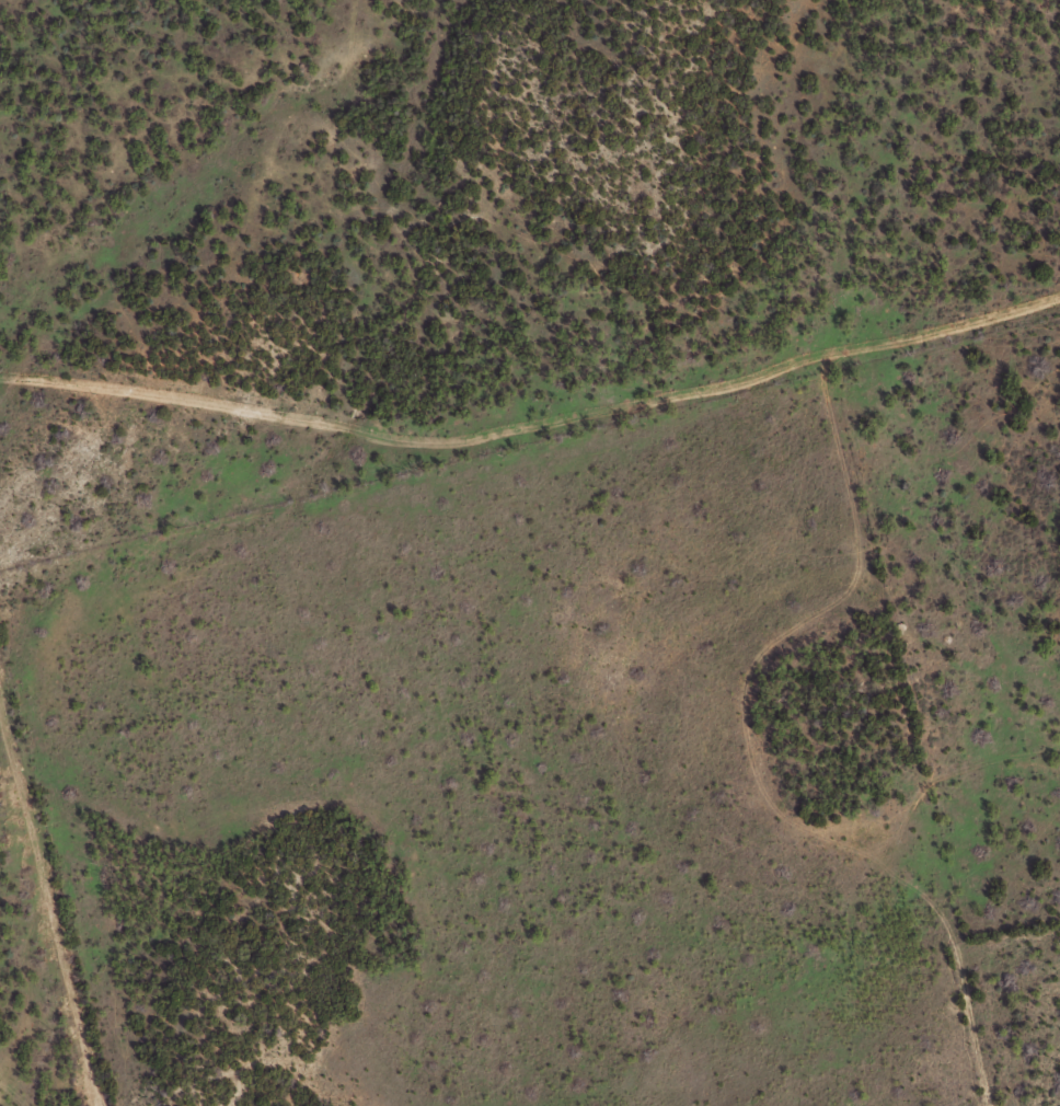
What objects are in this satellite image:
road: (91, 142)
road: (530, 378)
road: (44, 907)
road: (11, 1095)

